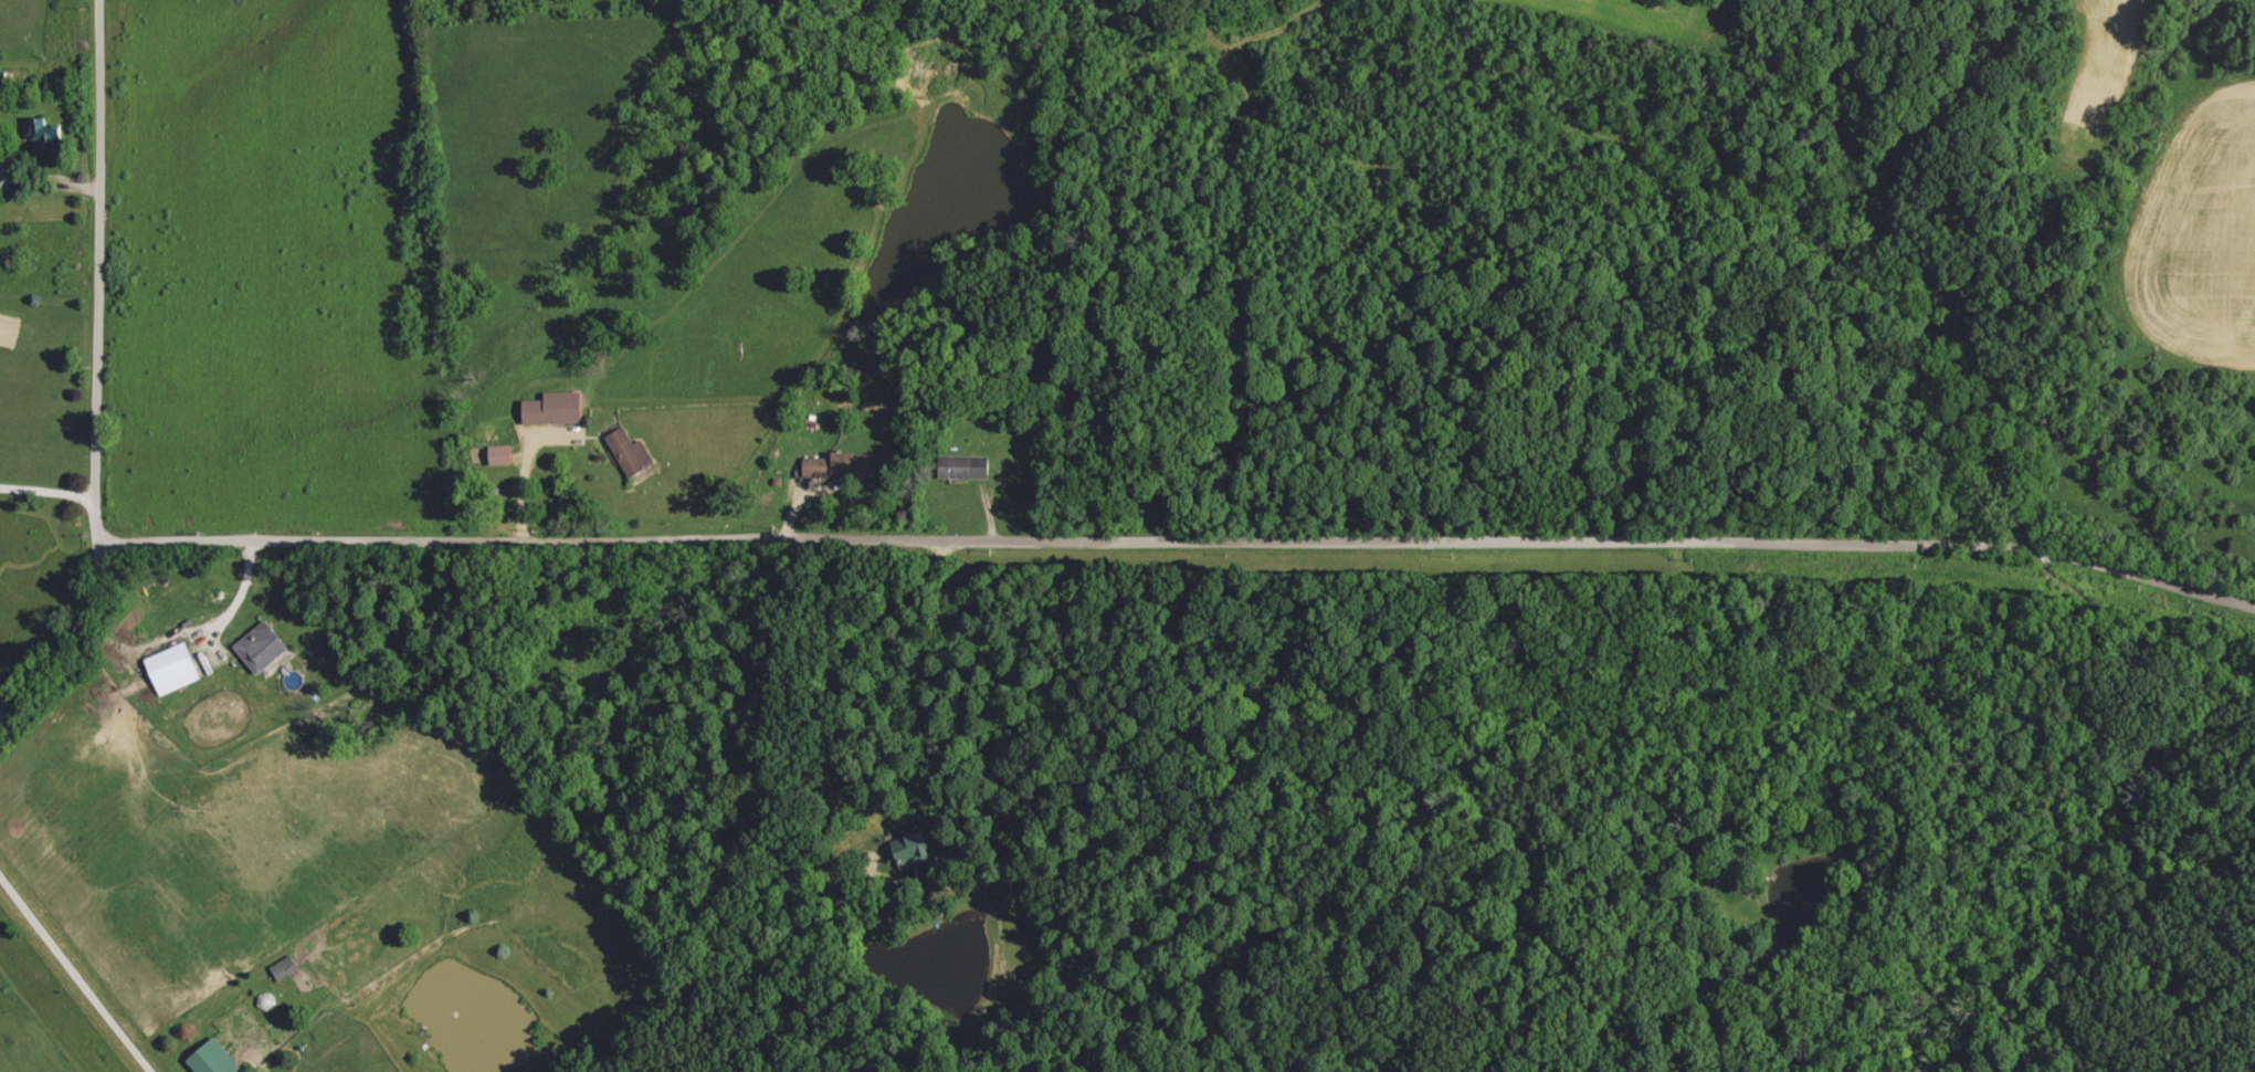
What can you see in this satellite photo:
building: (46, 136)
building: (3, 174)
road: (96, 273)
building: (556, 409)
building: (632, 453)
building: (502, 455)
building: (847, 466)
building: (965, 467)
road: (46, 488)
road: (1181, 538)
road: (236, 602)
road: (57, 630)
building: (262, 648)
building: (173, 670)
building: (285, 967)
road: (73, 975)
building: (214, 1059)

